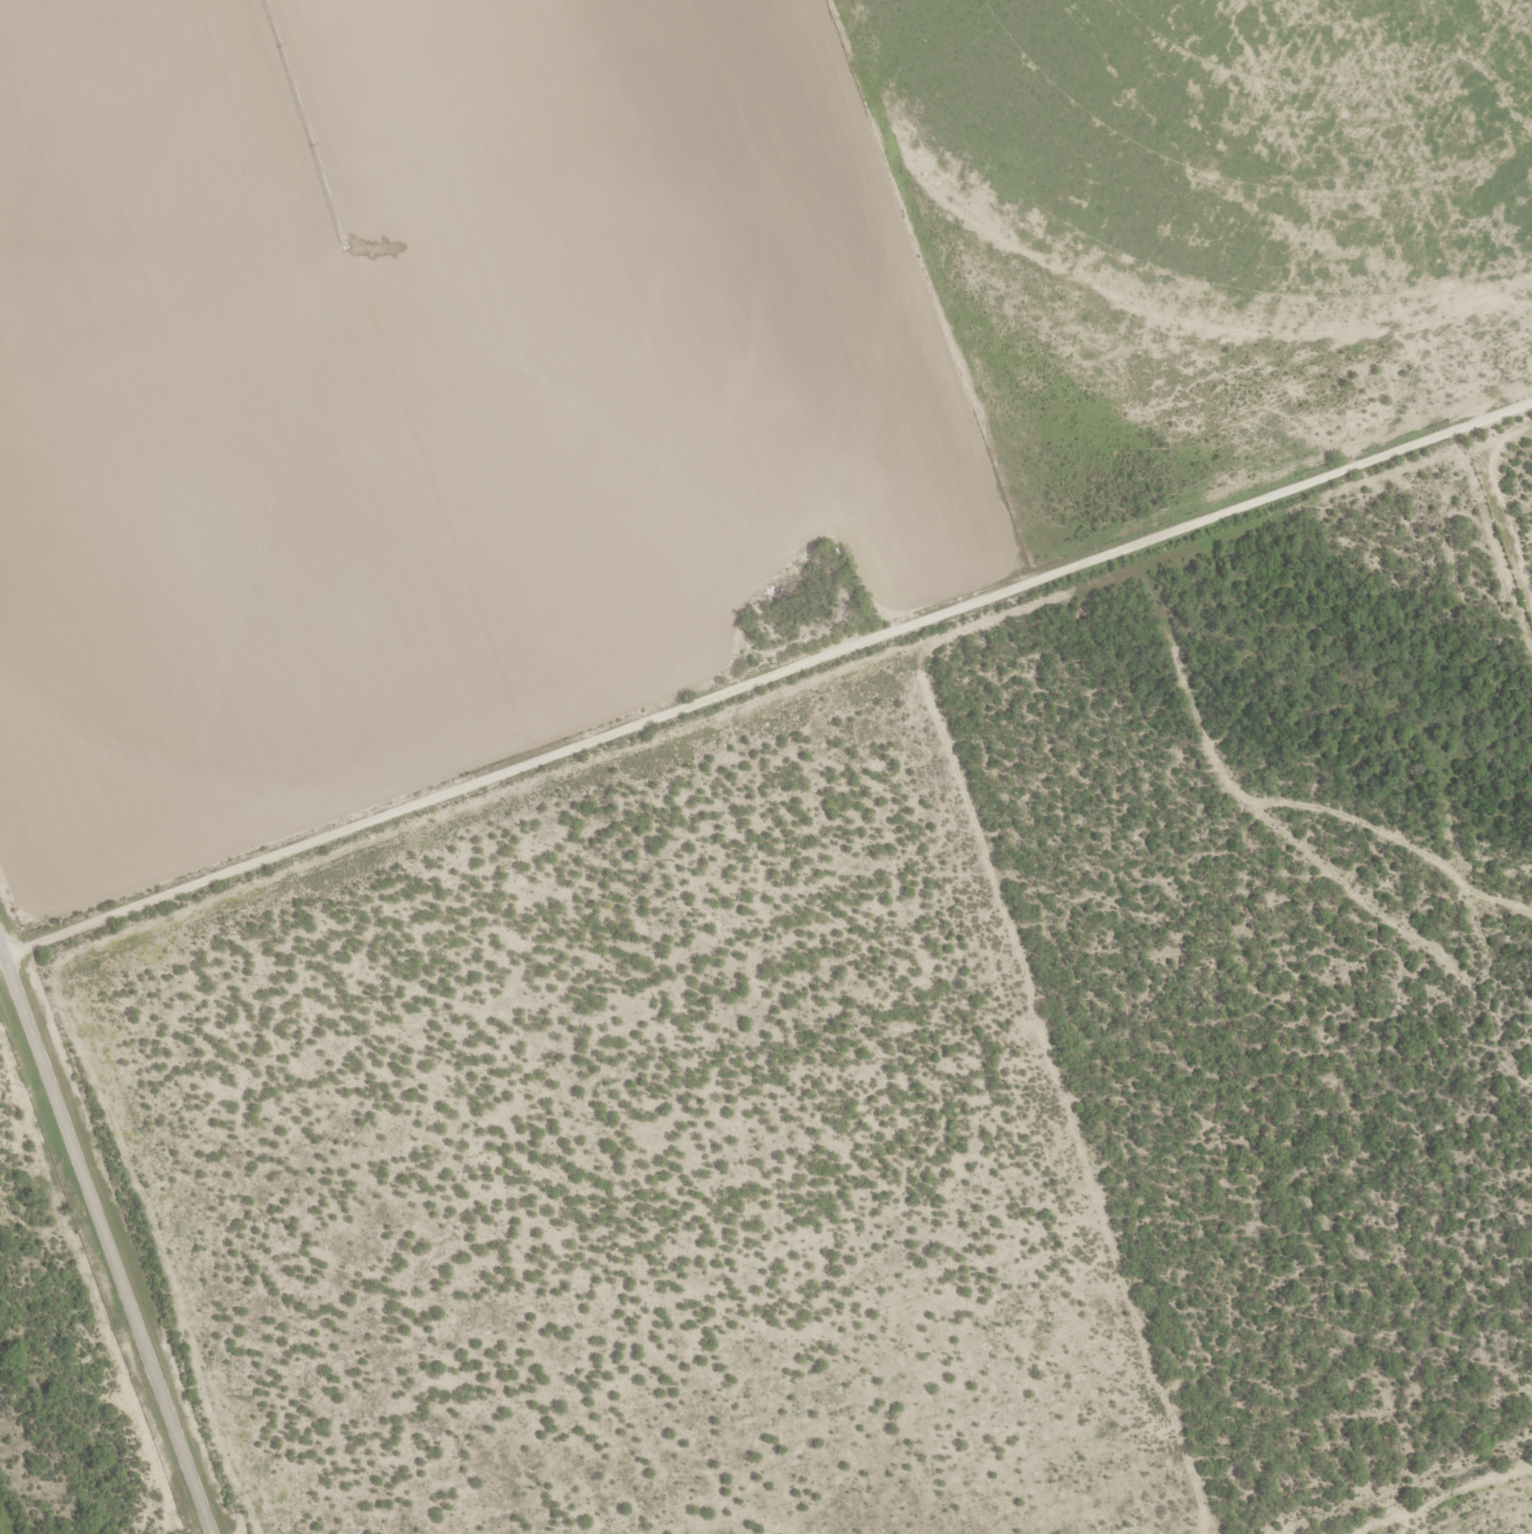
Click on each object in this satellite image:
road: (766, 679)
road: (108, 1231)

